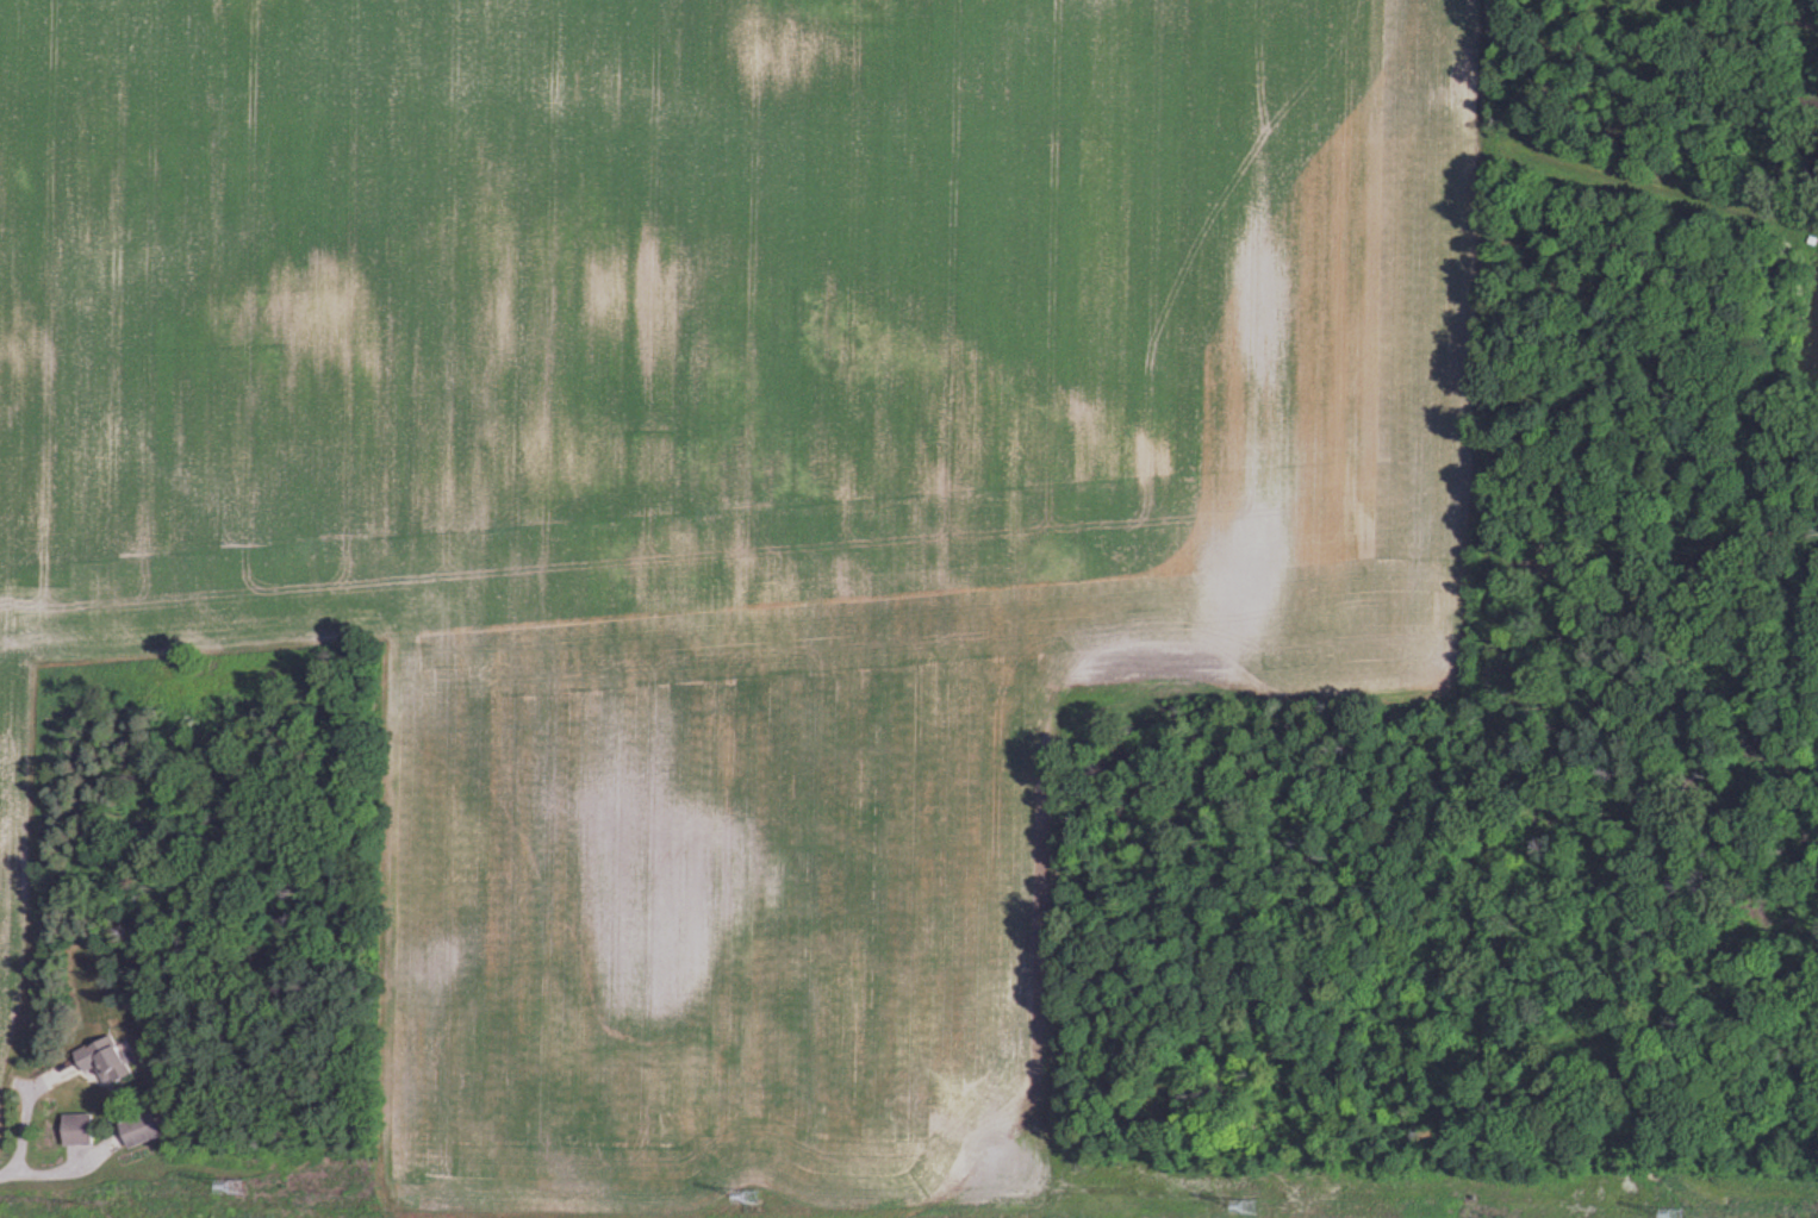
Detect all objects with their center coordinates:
building: (111, 1061)
road: (26, 1112)
building: (82, 1130)
building: (143, 1132)
power tower: (235, 1187)
power tower: (751, 1197)
power tower: (1246, 1205)

